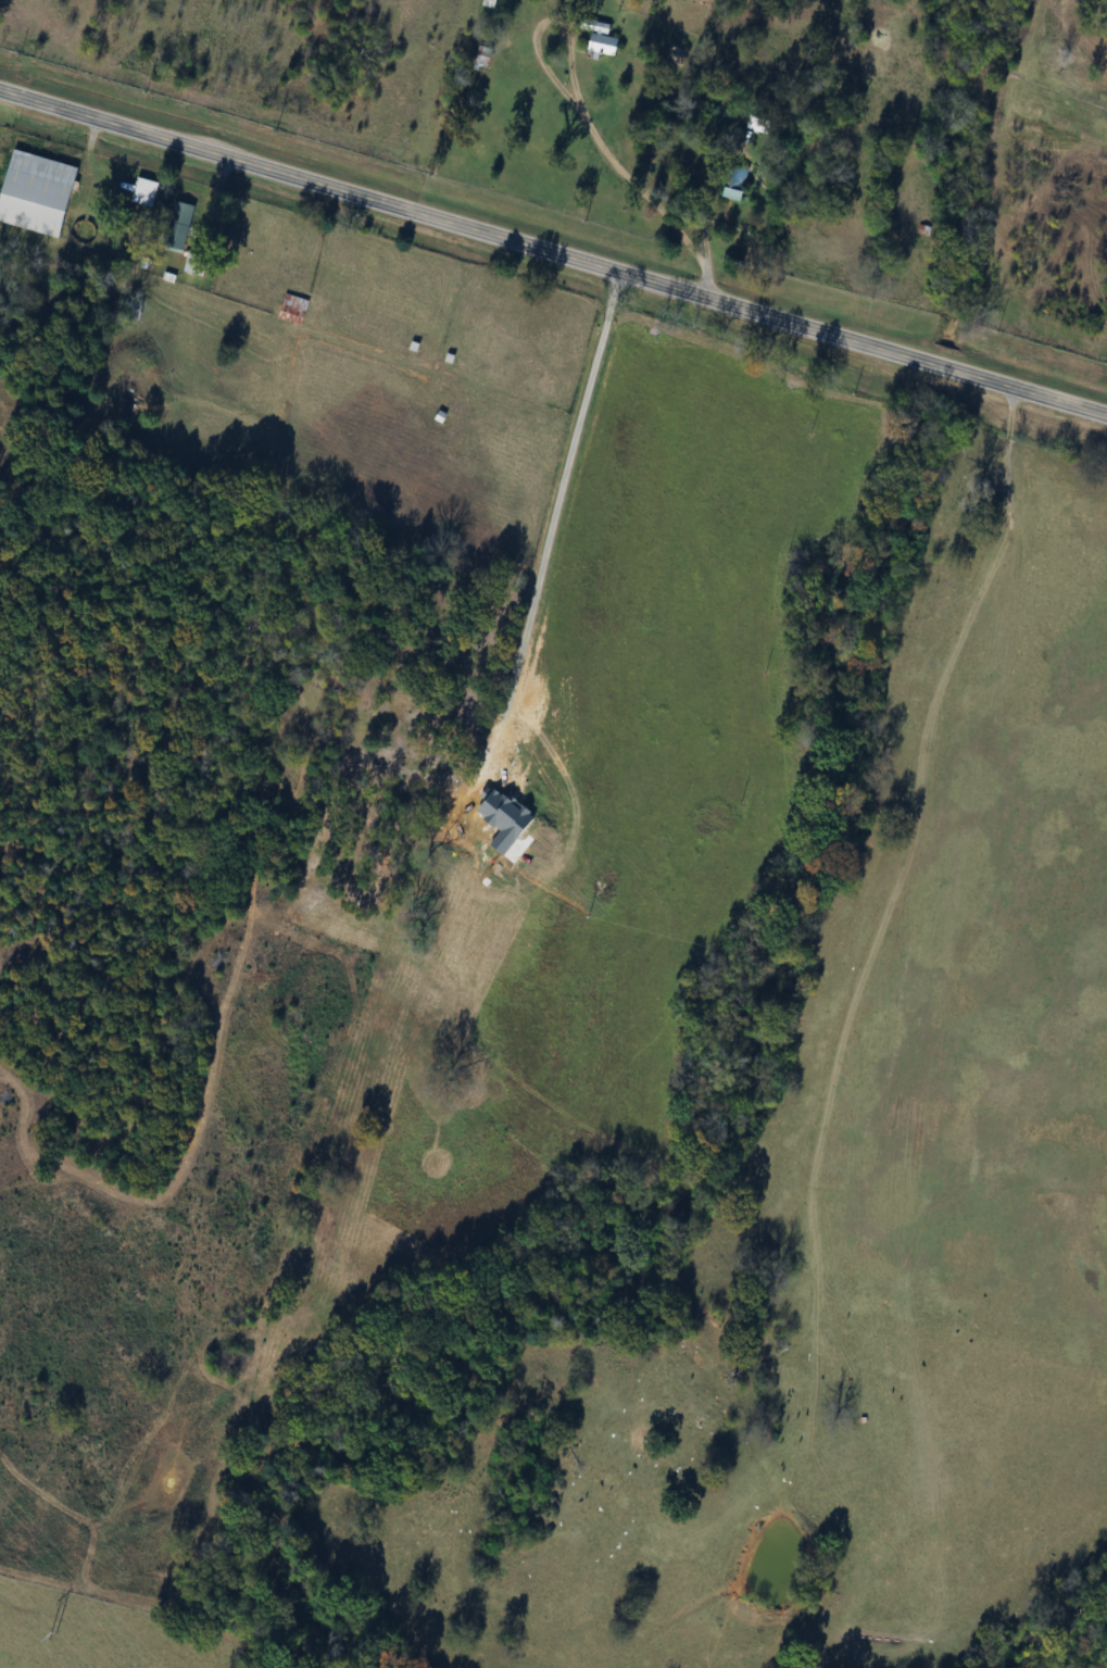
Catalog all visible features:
building: (603, 45)
building: (482, 55)
road: (583, 103)
building: (38, 193)
building: (179, 221)
road: (553, 251)
road: (710, 253)
building: (197, 264)
building: (293, 309)
power tower: (50, 1634)

